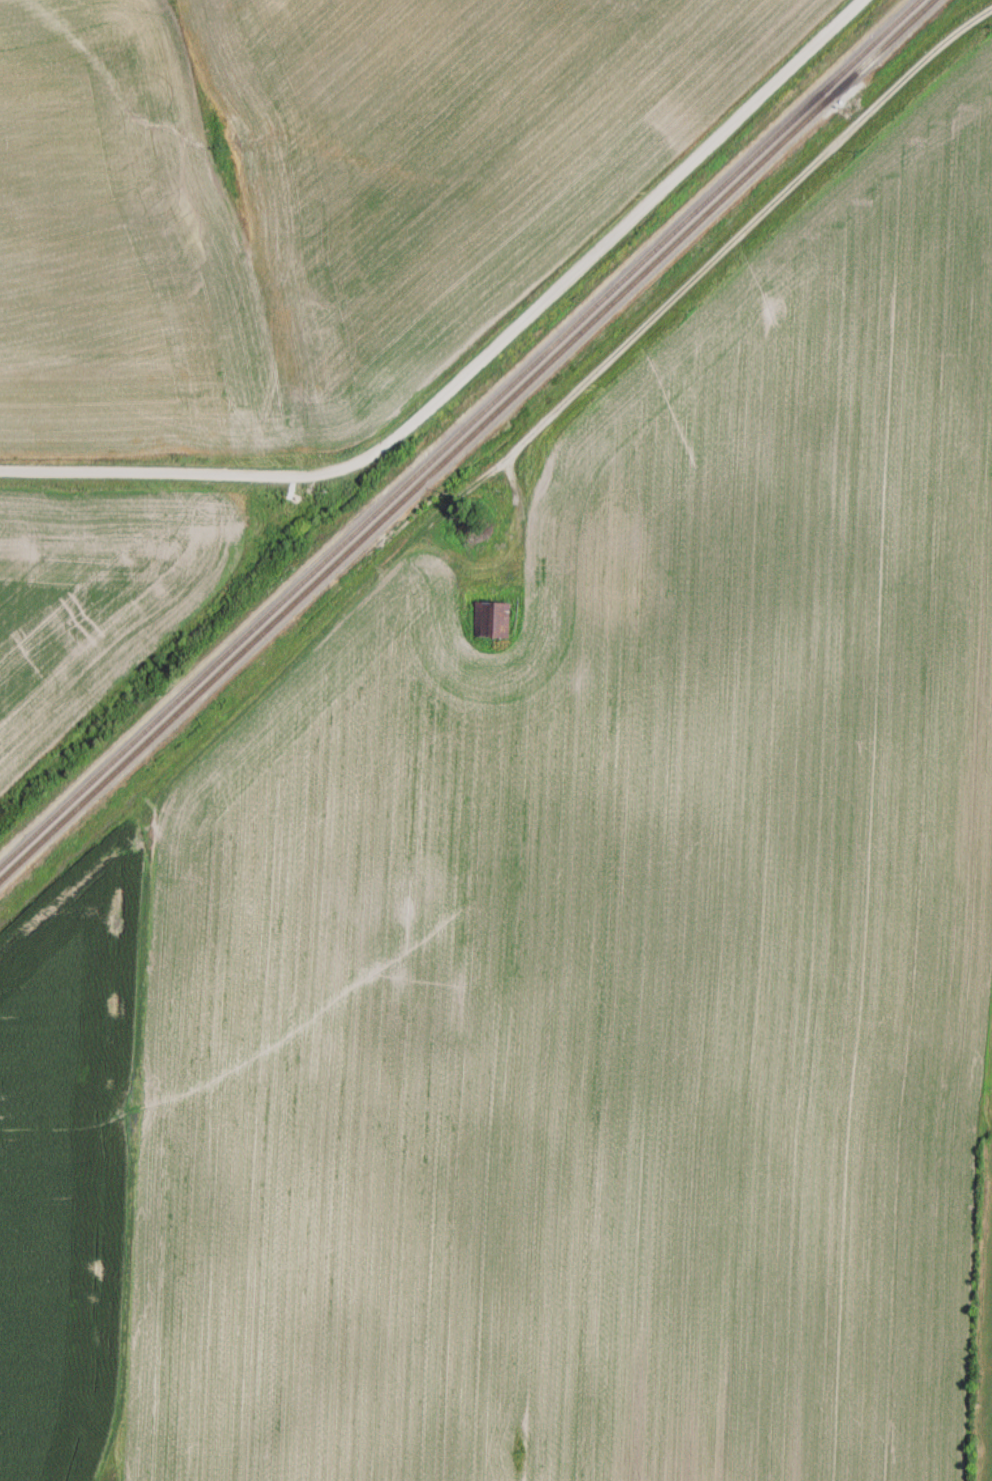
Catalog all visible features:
road: (748, 229)
road: (552, 290)
railway: (460, 434)
railway: (467, 441)
road: (98, 468)
building: (498, 620)
road: (175, 792)

